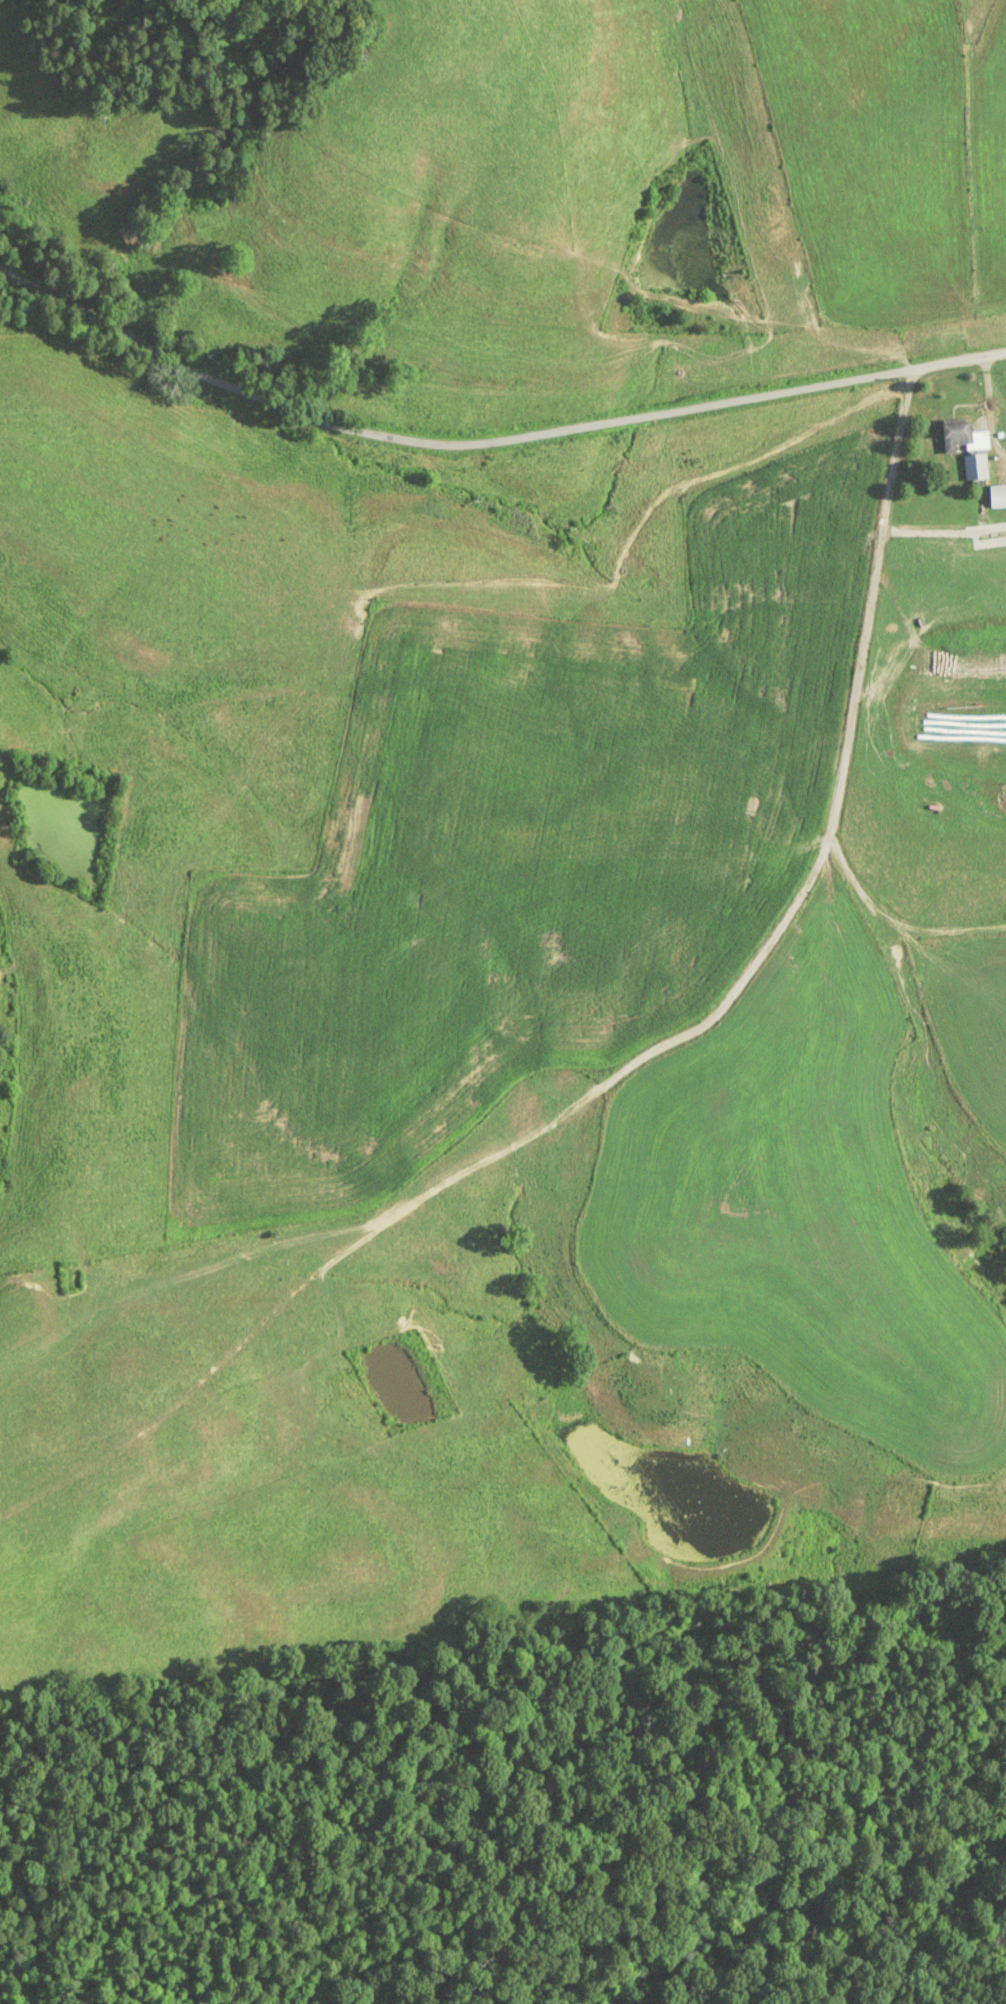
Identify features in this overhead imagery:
building: (961, 439)
road: (487, 442)
building: (974, 467)
building: (996, 496)

